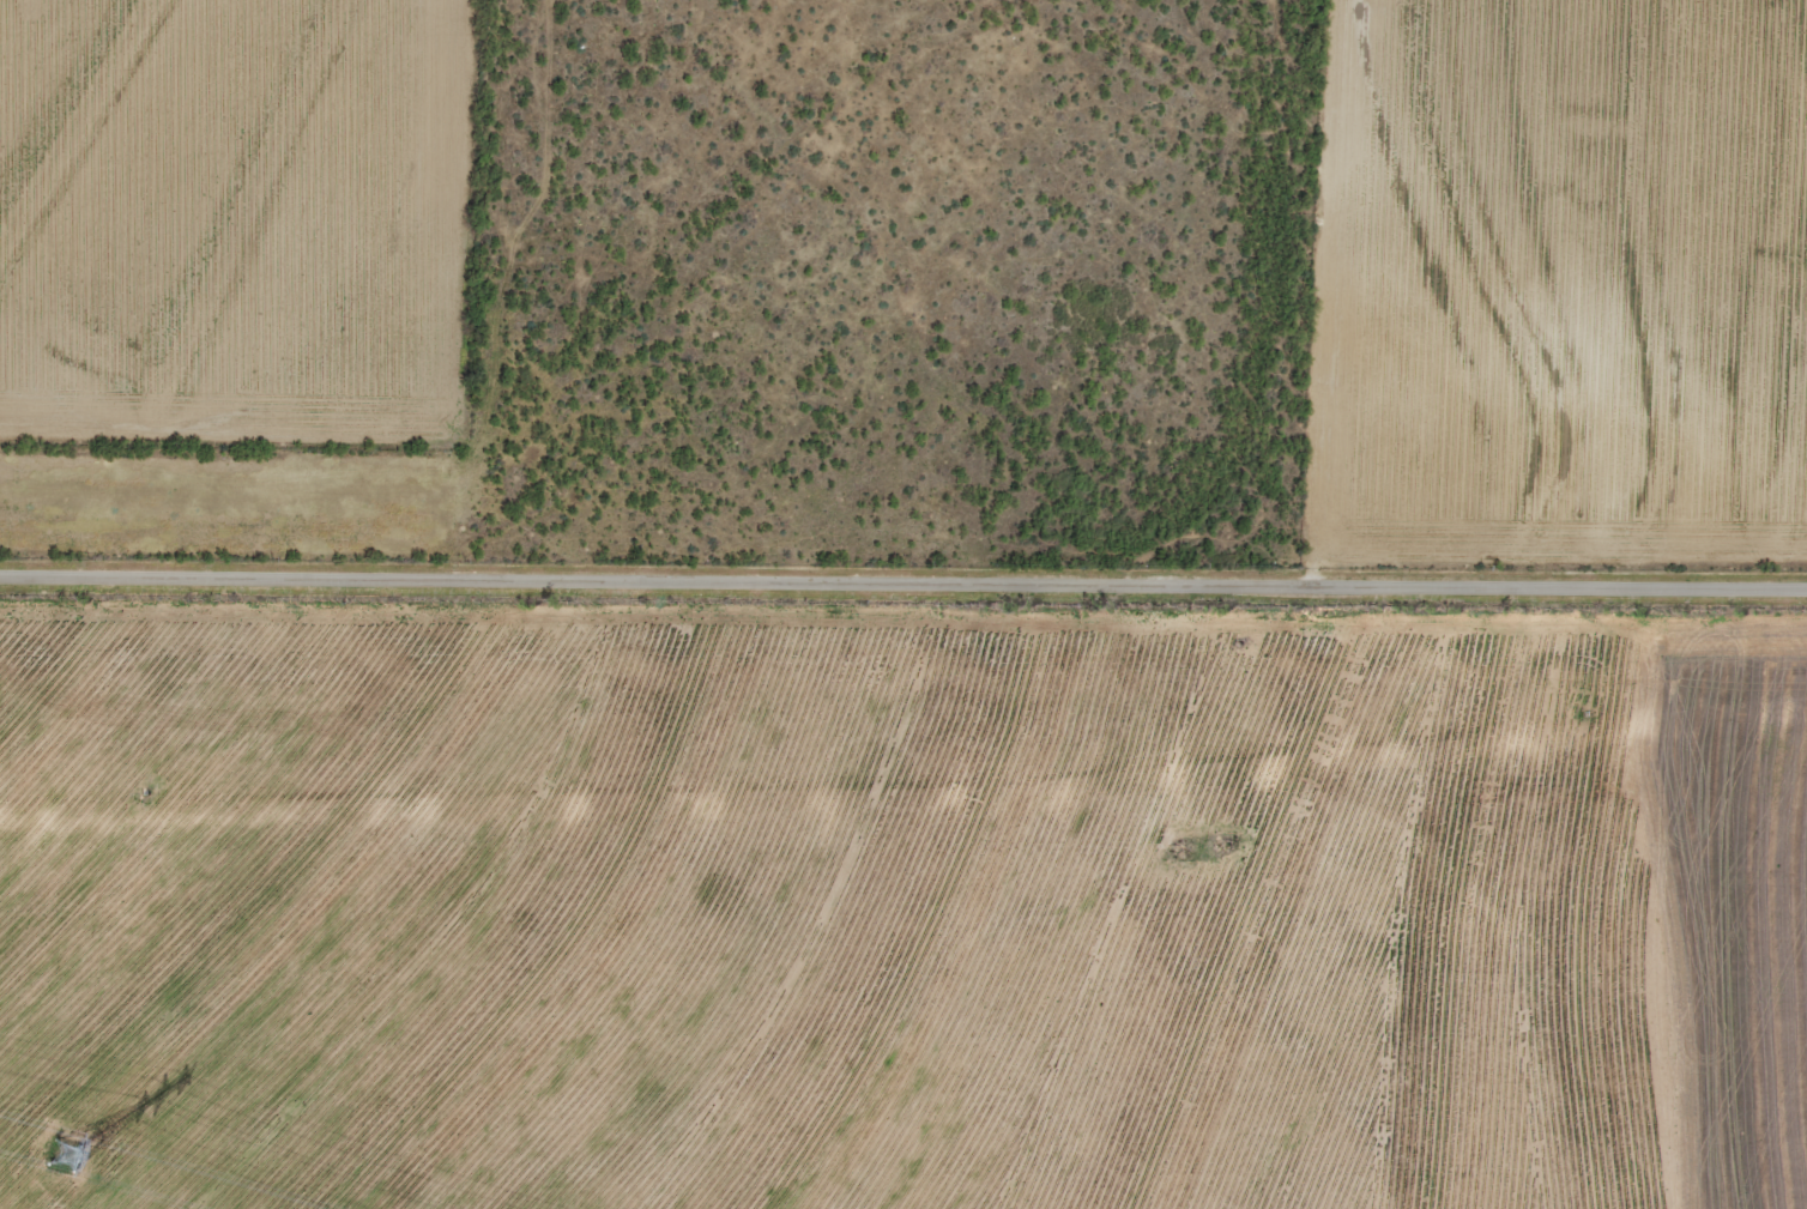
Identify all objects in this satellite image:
road: (903, 552)
power tower: (61, 1156)

